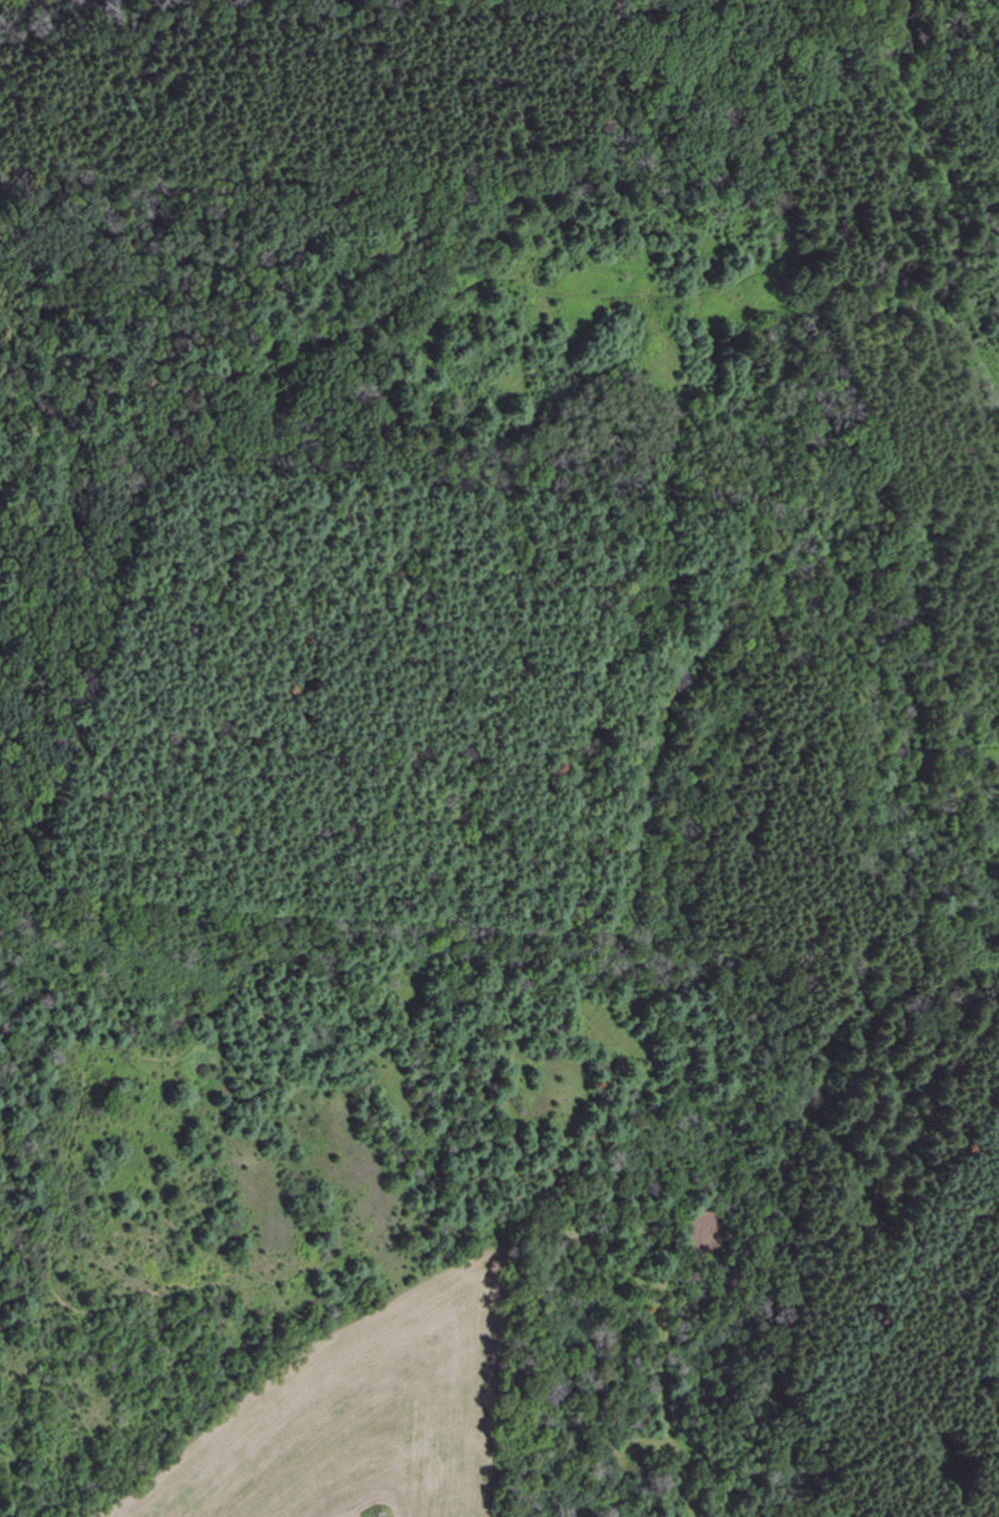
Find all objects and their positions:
river: (41, 5)
road: (291, 177)
road: (958, 194)
road: (766, 265)
road: (197, 390)
road: (479, 474)
road: (597, 1037)
road: (49, 1275)

